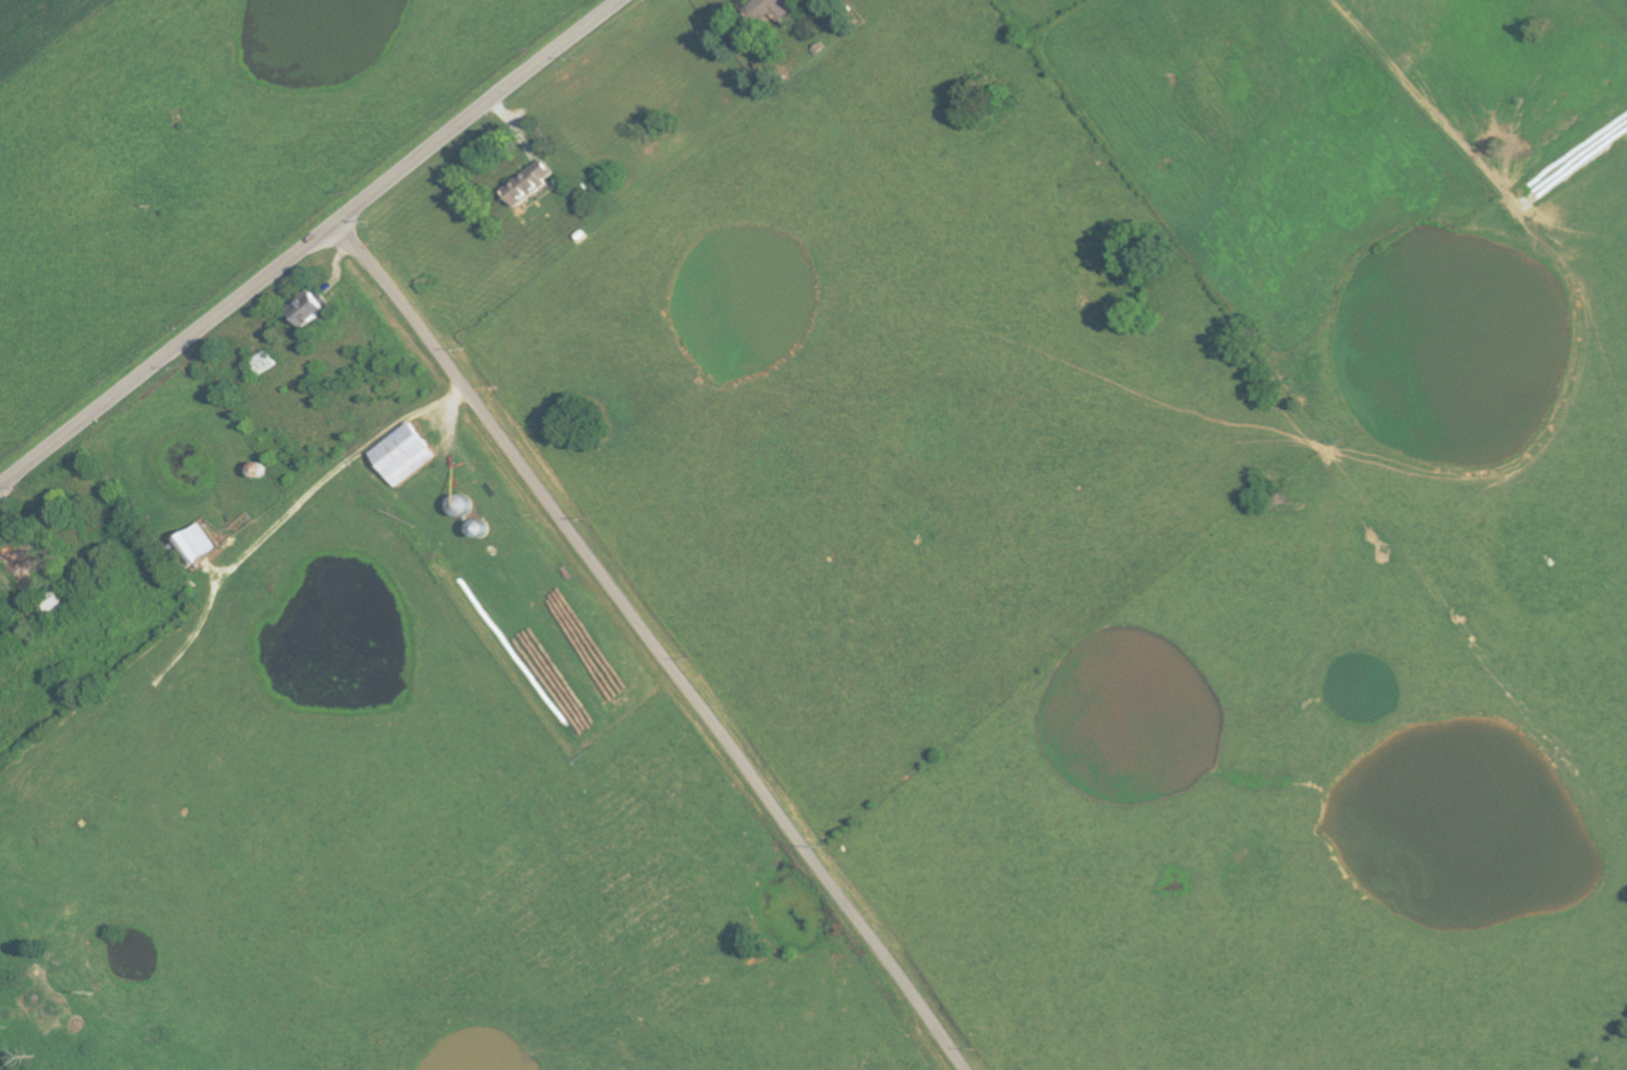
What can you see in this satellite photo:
building: (769, 10)
building: (529, 183)
road: (312, 244)
building: (305, 309)
building: (402, 454)
building: (193, 543)
road: (652, 646)

